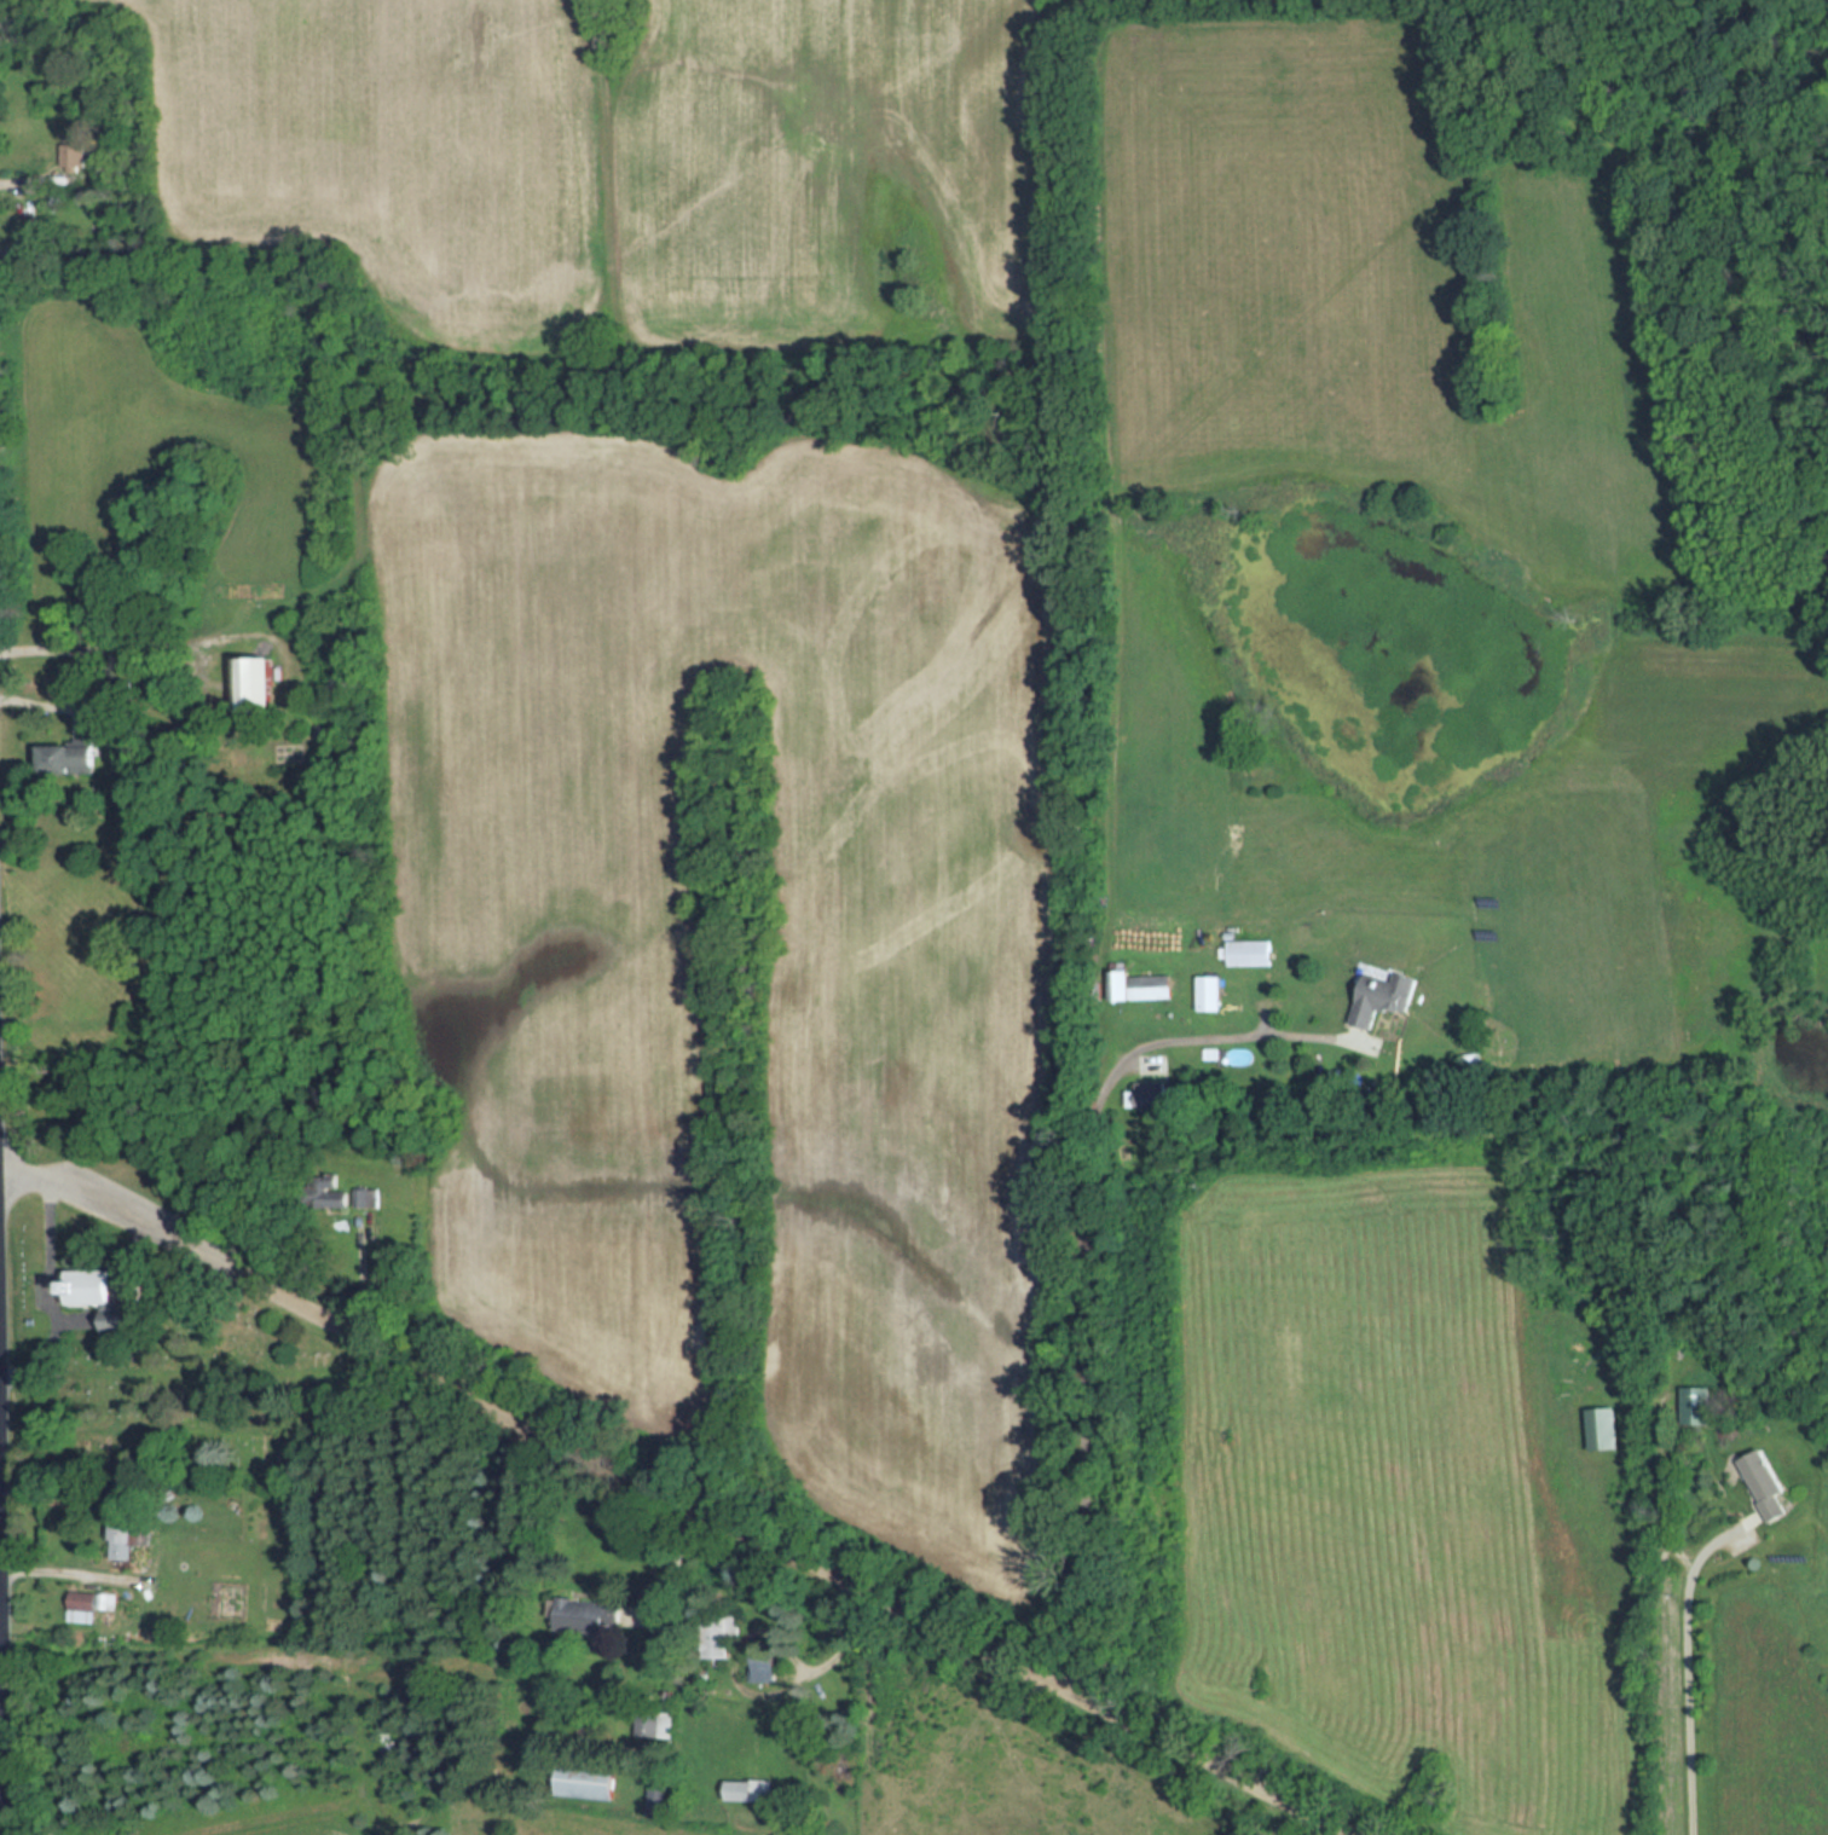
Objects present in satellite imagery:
building: (70, 156)
road: (114, 642)
building: (256, 682)
building: (73, 758)
building: (1248, 953)
building: (1142, 985)
building: (1209, 992)
building: (1377, 1001)
road: (96, 1191)
road: (47, 1193)
road: (1082, 1266)
building: (111, 1295)
road: (52, 1313)
building: (1696, 1406)
building: (1602, 1429)
building: (1769, 1484)
building: (125, 1533)
road: (768, 1542)
road: (65, 1573)
road: (2, 1678)
road: (1688, 1678)
building: (589, 1781)
building: (750, 1790)

